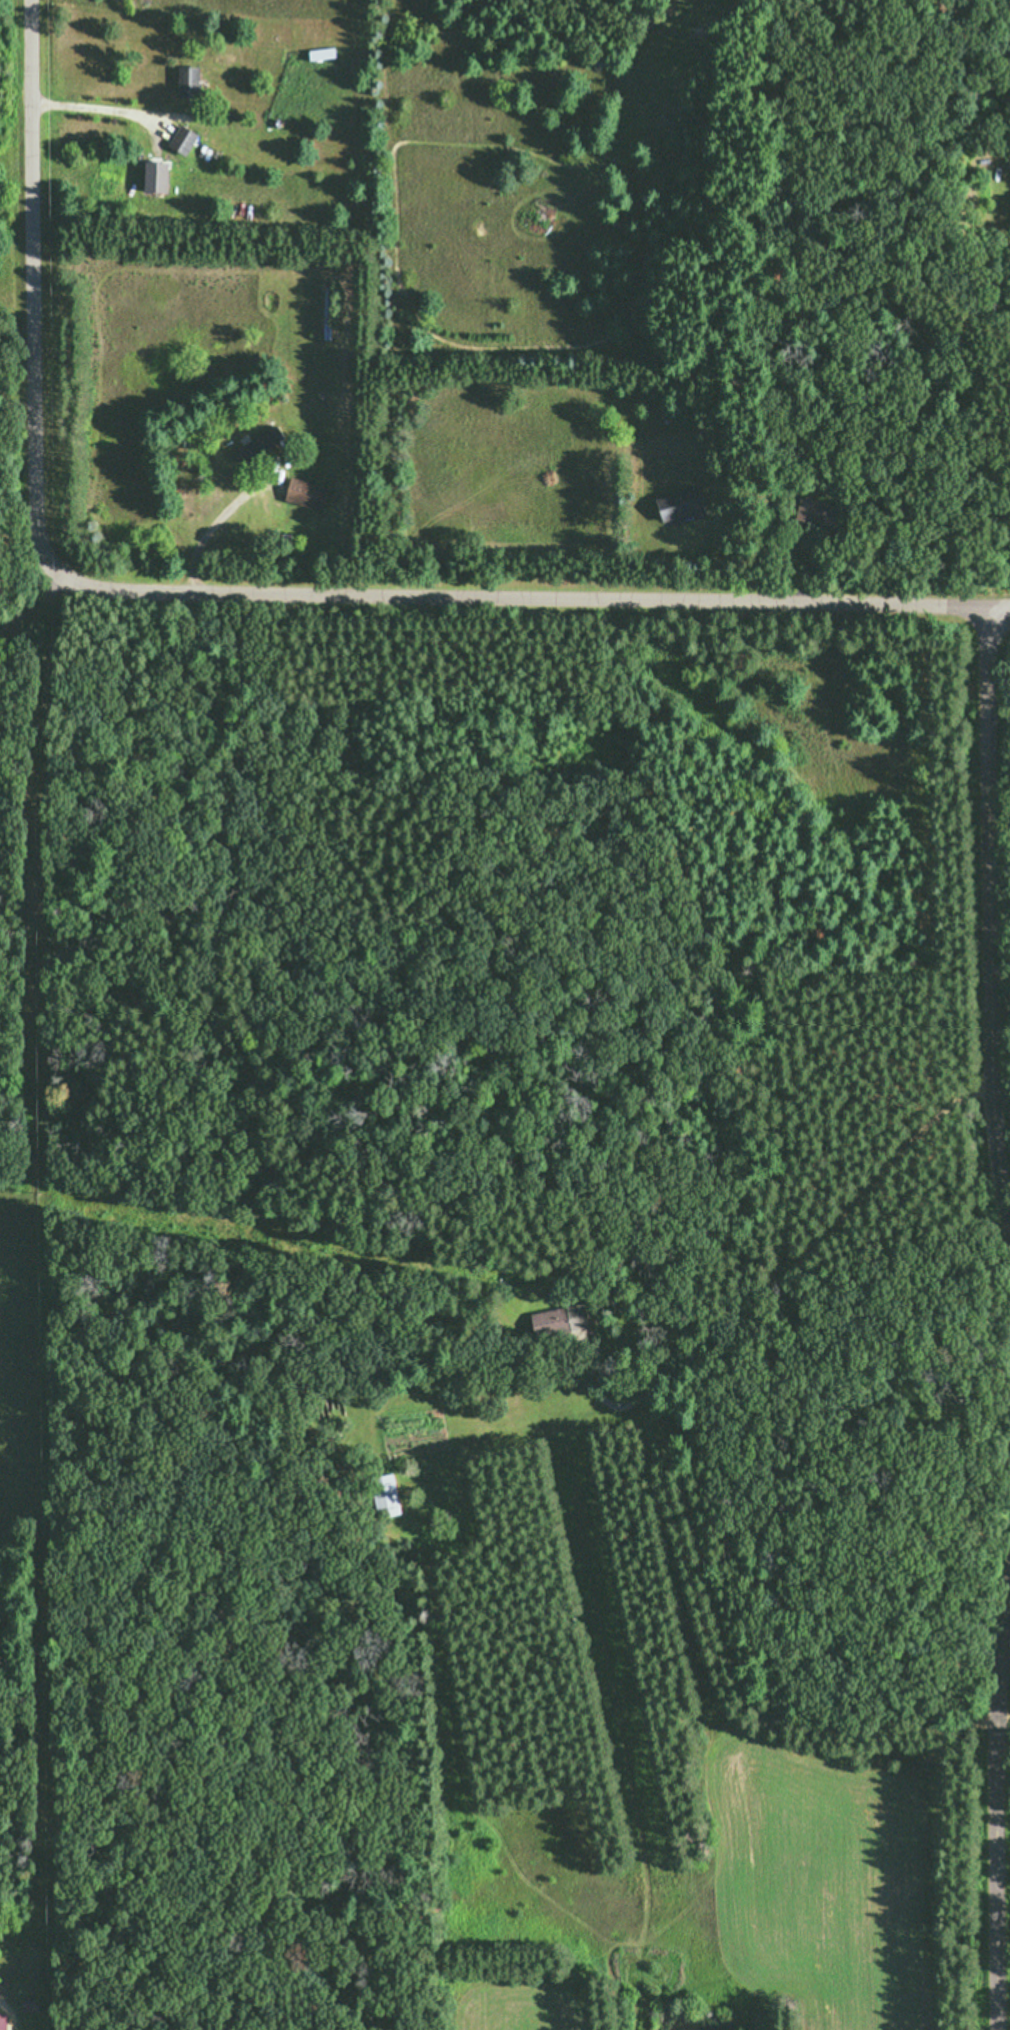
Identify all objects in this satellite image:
building: (212, 67)
building: (184, 80)
building: (179, 139)
building: (327, 306)
building: (257, 444)
building: (304, 492)
building: (677, 502)
building: (799, 516)
road: (232, 593)
road: (34, 606)
road: (999, 609)
road: (989, 919)
building: (561, 1319)
building: (382, 1496)
road: (995, 1796)
road: (10, 2012)
building: (2, 2021)

